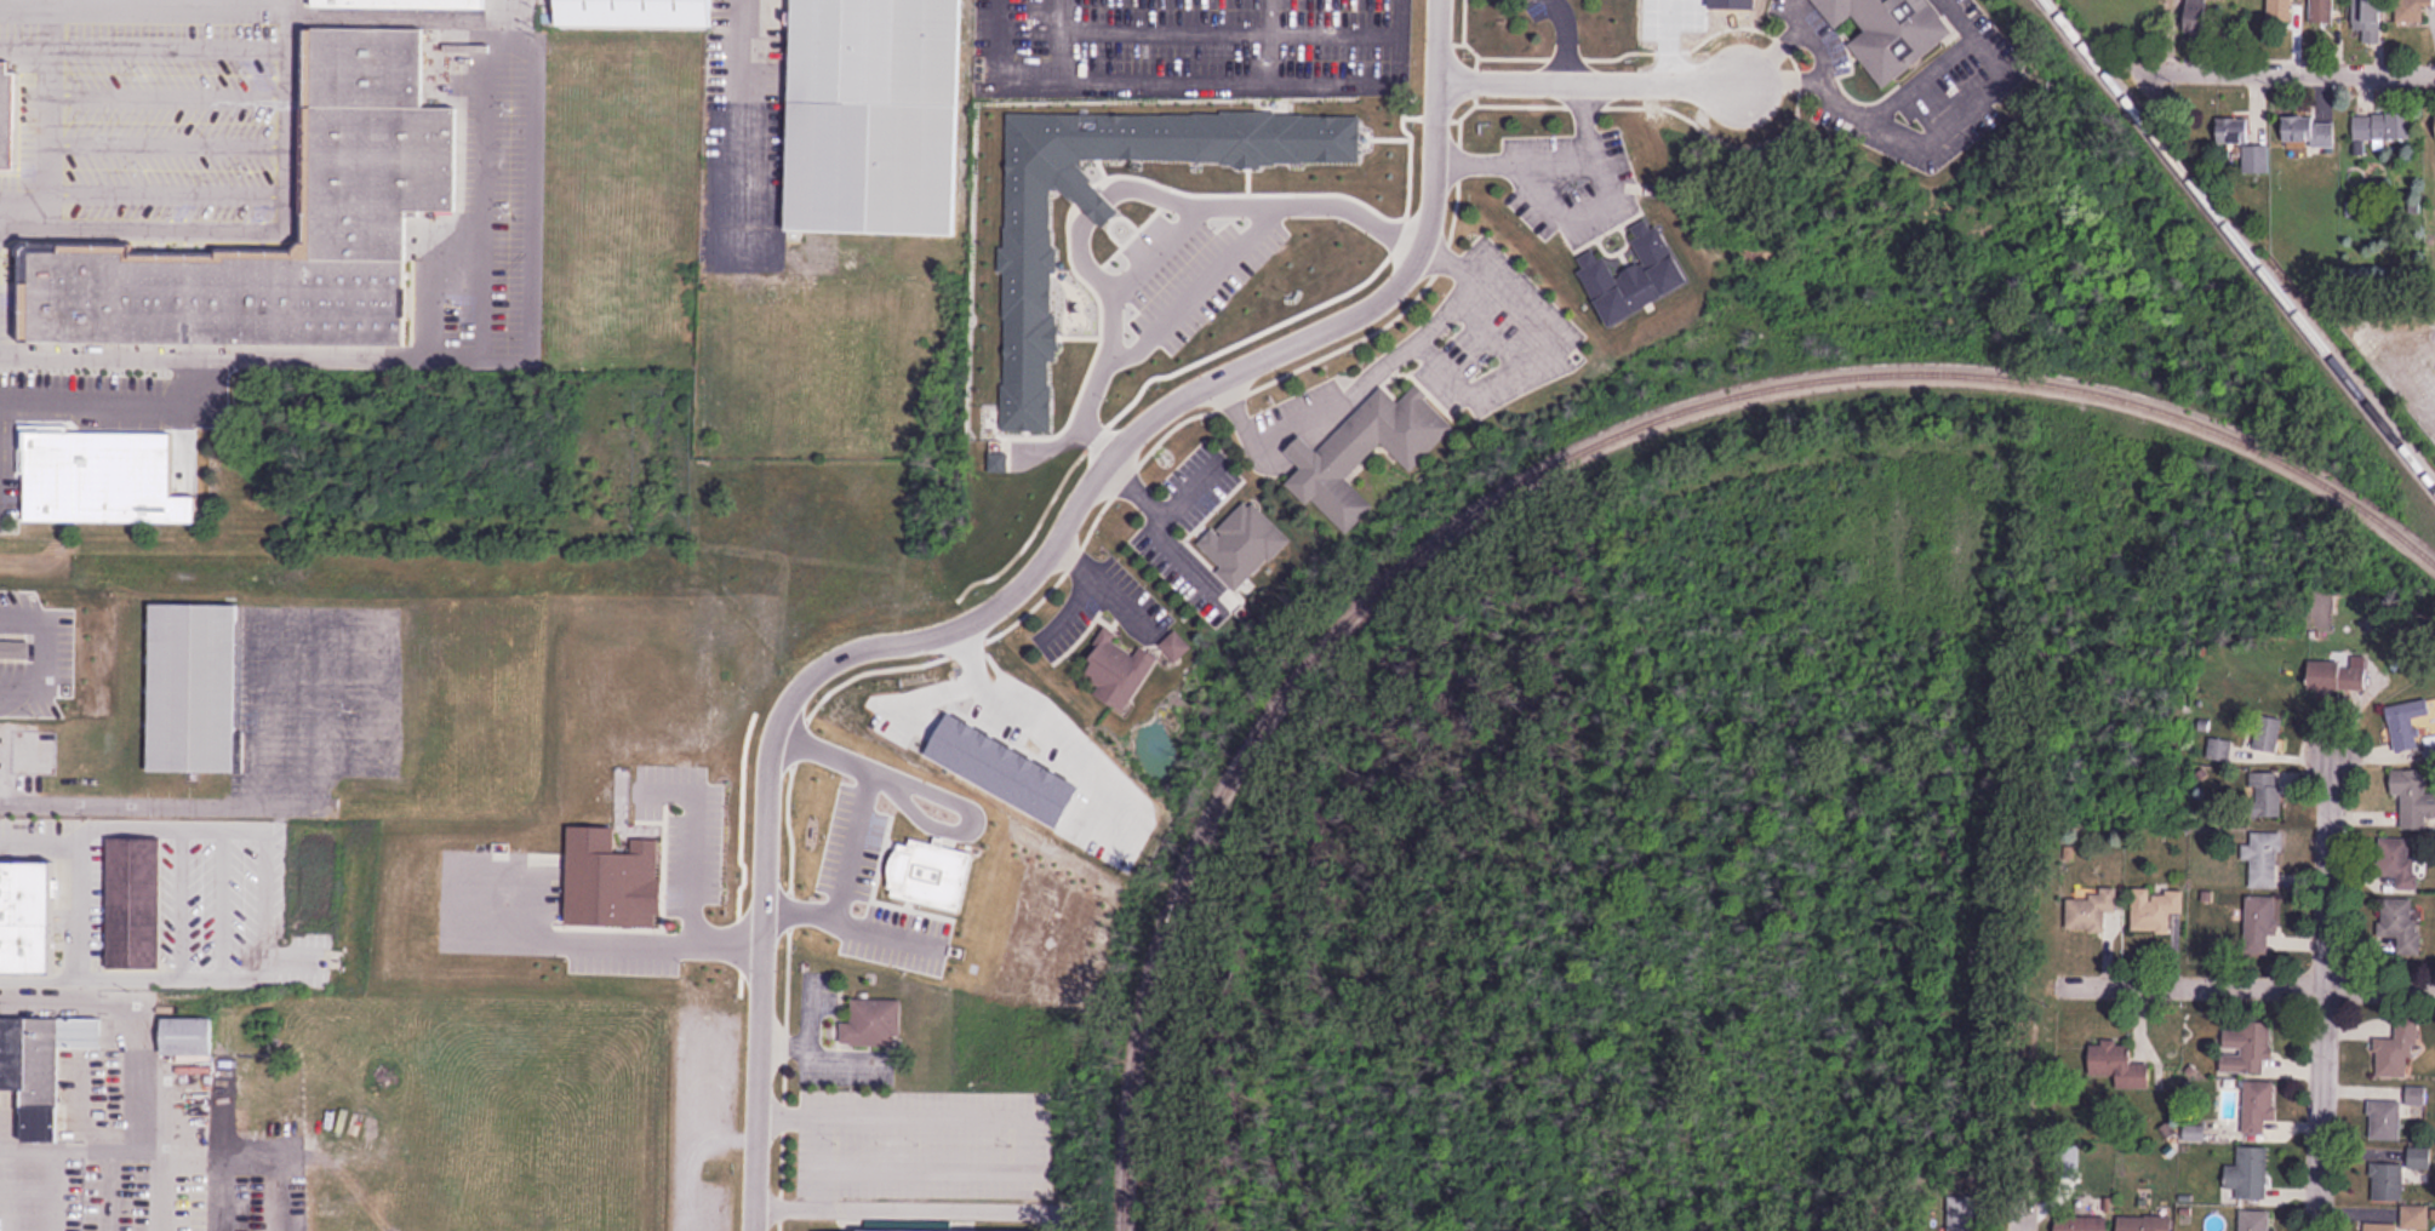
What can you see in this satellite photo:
building: (401, 4)
building: (2280, 11)
building: (2322, 11)
building: (2412, 11)
building: (636, 13)
building: (2370, 19)
building: (1890, 32)
road: (1561, 35)
road: (1441, 36)
road: (141, 42)
road: (1822, 48)
building: (366, 64)
road: (2307, 69)
road: (1593, 75)
road: (161, 92)
road: (739, 107)
road: (279, 111)
road: (1877, 115)
building: (875, 116)
building: (7, 118)
building: (2383, 128)
building: (2234, 130)
building: (2309, 131)
road: (41, 132)
road: (160, 138)
road: (1554, 160)
building: (2257, 160)
road: (519, 178)
road: (159, 187)
road: (19, 200)
road: (1573, 217)
road: (158, 223)
road: (1171, 225)
railway: (2240, 242)
building: (268, 251)
building: (1633, 275)
road: (258, 351)
road: (184, 378)
road: (92, 403)
railway: (2149, 407)
building: (1366, 451)
building: (97, 482)
road: (1131, 487)
road: (1151, 527)
building: (1242, 542)
road: (1102, 582)
road: (1069, 605)
road: (983, 609)
road: (324, 617)
building: (1174, 643)
building: (16, 646)
road: (46, 646)
building: (1116, 669)
building: (2336, 676)
railway: (1328, 682)
building: (193, 689)
building: (2410, 723)
building: (2268, 733)
building: (2430, 744)
building: (2219, 750)
building: (2268, 792)
building: (2414, 798)
road: (130, 808)
building: (2263, 859)
building: (2400, 861)
building: (133, 901)
building: (2090, 909)
building: (2159, 909)
building: (27, 915)
building: (2401, 924)
building: (2260, 926)
road: (2247, 983)
road: (2319, 984)
road: (804, 1009)
building: (873, 1023)
building: (187, 1035)
building: (2246, 1047)
building: (2397, 1050)
road: (818, 1053)
building: (40, 1064)
building: (2119, 1065)
building: (2258, 1105)
building: (2384, 1120)
road: (808, 1133)
building: (2419, 1157)
building: (2248, 1174)
building: (2387, 1181)
road: (910, 1206)
road: (2020, 1210)
building: (1960, 1213)
building: (2416, 1218)
building: (2254, 1220)
building: (2084, 1223)
building: (2144, 1224)
building: (2382, 1226)
building: (817, 1230)

